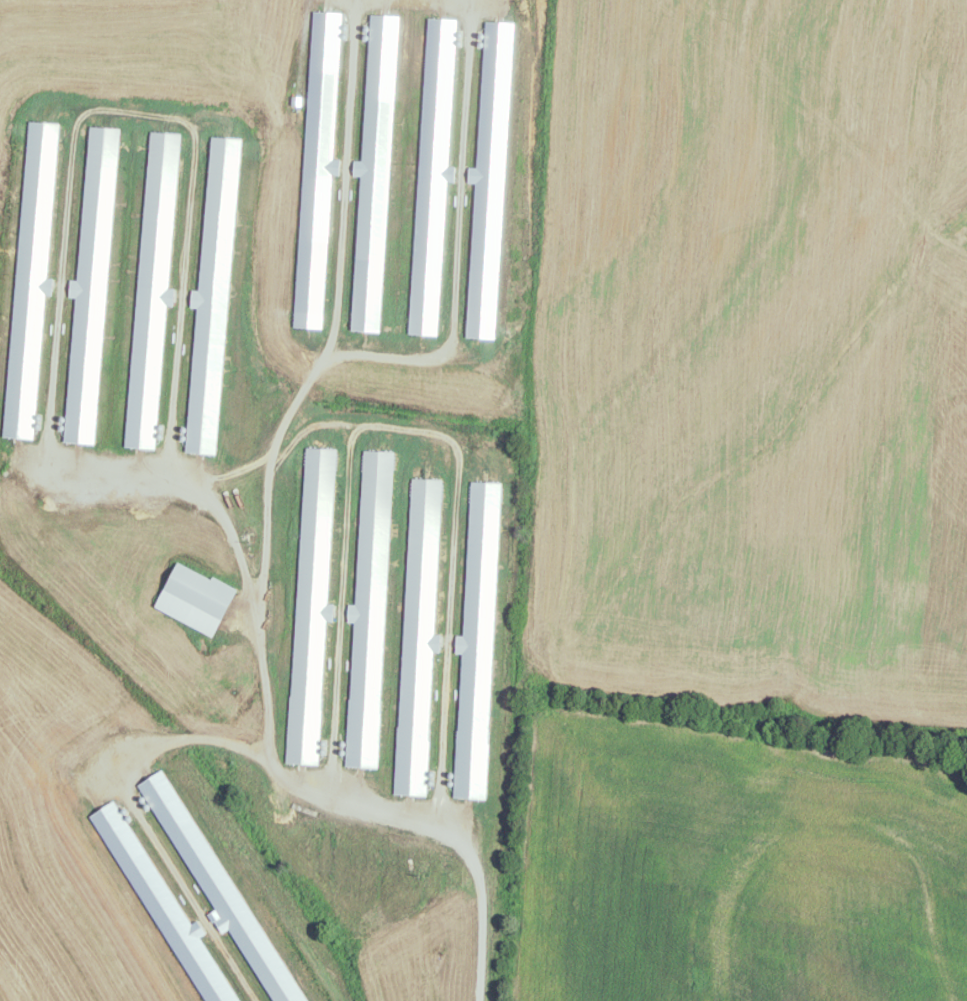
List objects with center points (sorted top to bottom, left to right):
building: (201, 592)
building: (311, 604)
building: (370, 609)
building: (418, 636)
building: (477, 644)
road: (292, 783)

